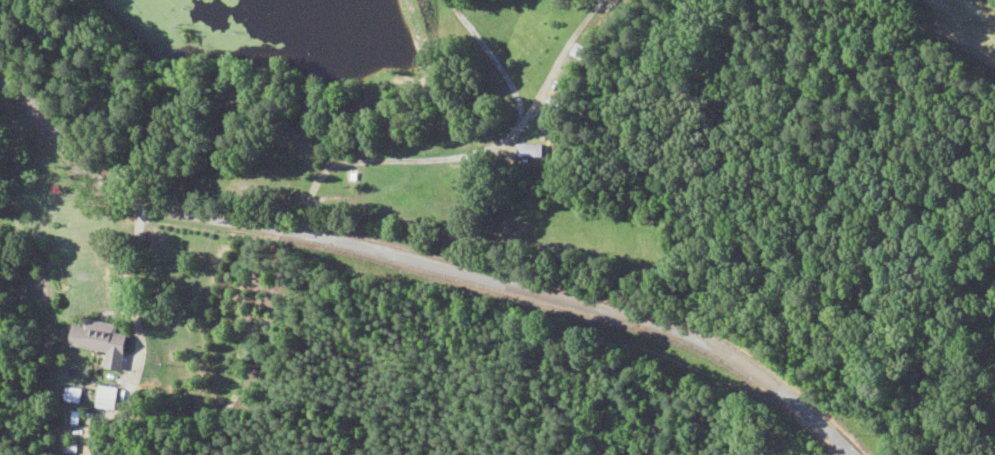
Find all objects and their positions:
building: (528, 151)
road: (431, 255)
building: (98, 338)
building: (75, 396)

